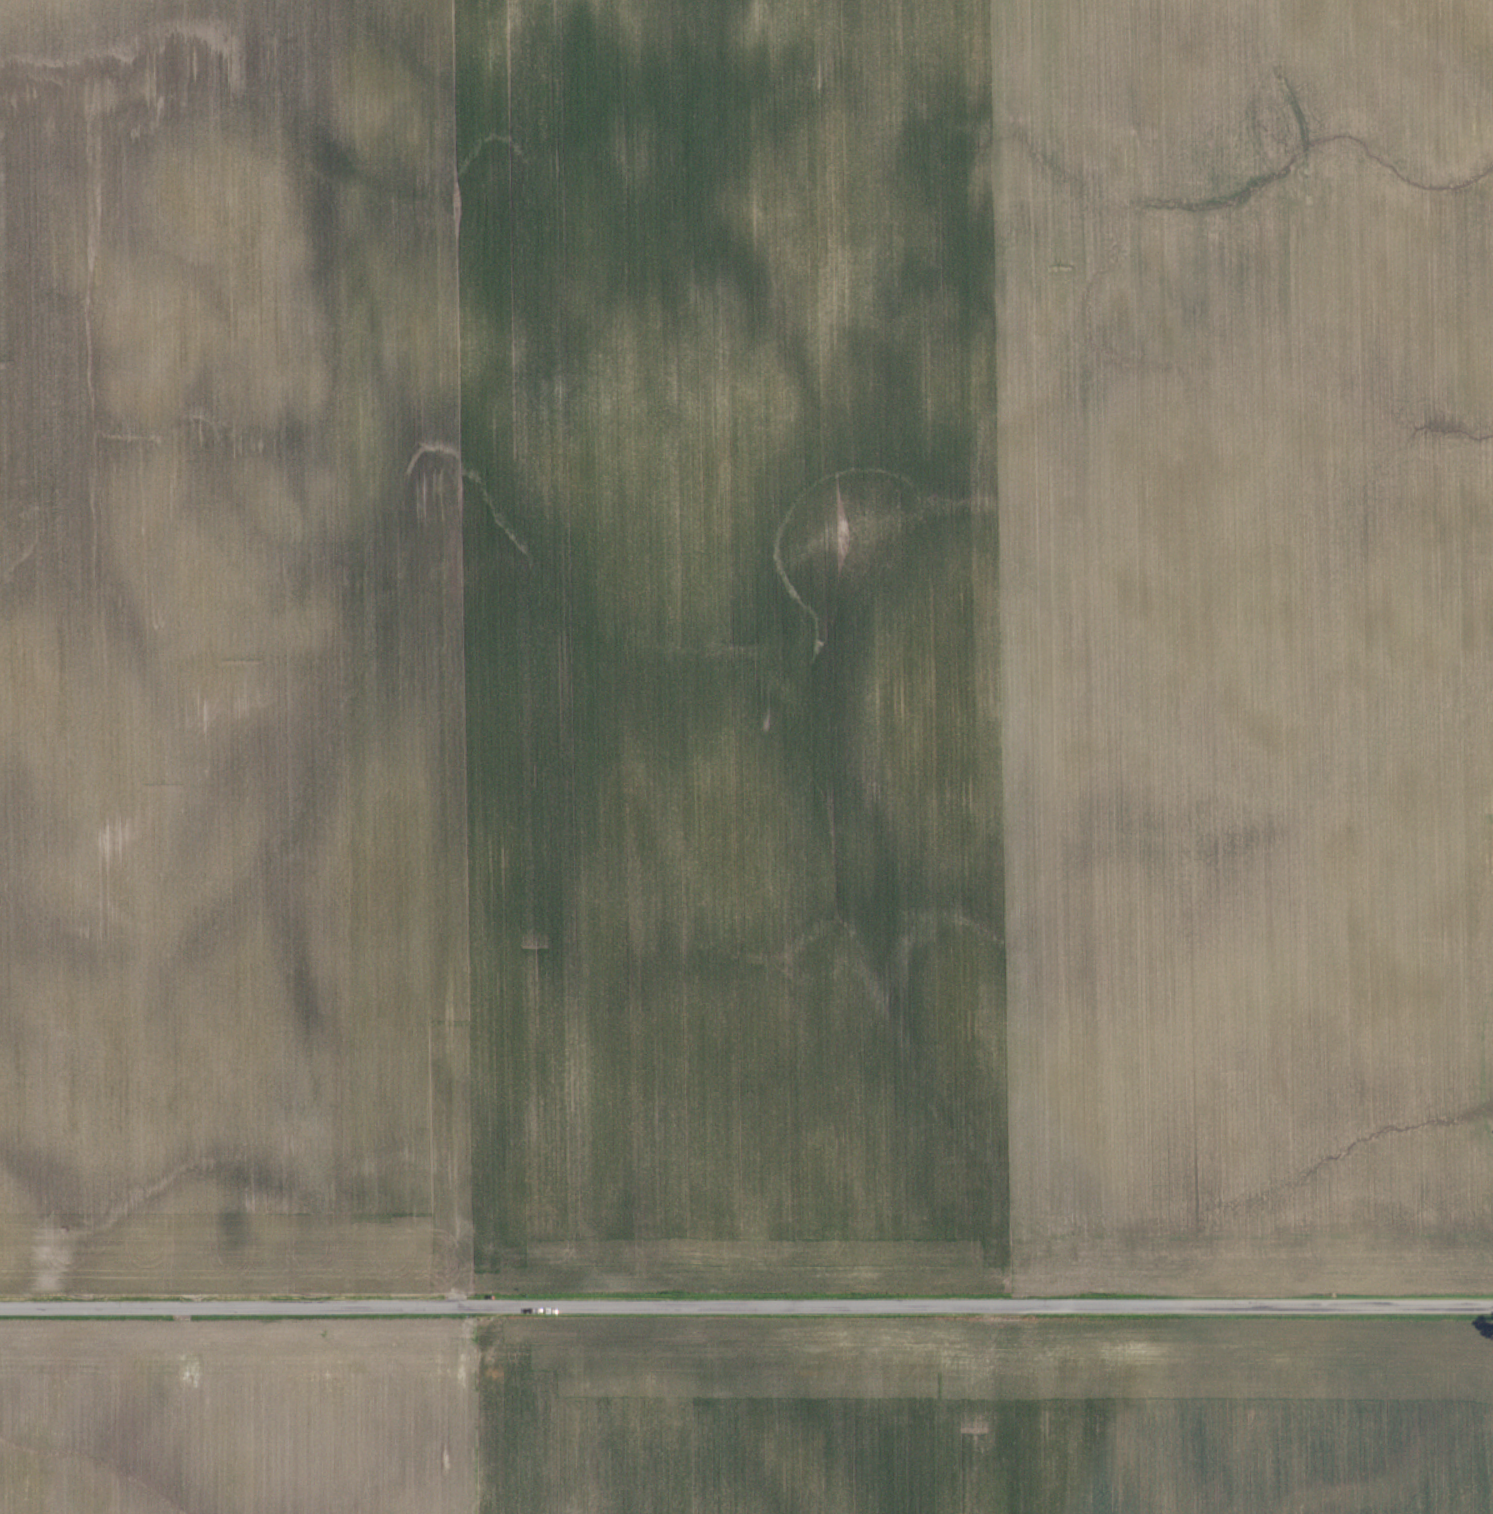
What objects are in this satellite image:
crop: (976, 651)
crop: (229, 657)
road: (746, 1305)
crop: (989, 1409)
crop: (234, 1410)

